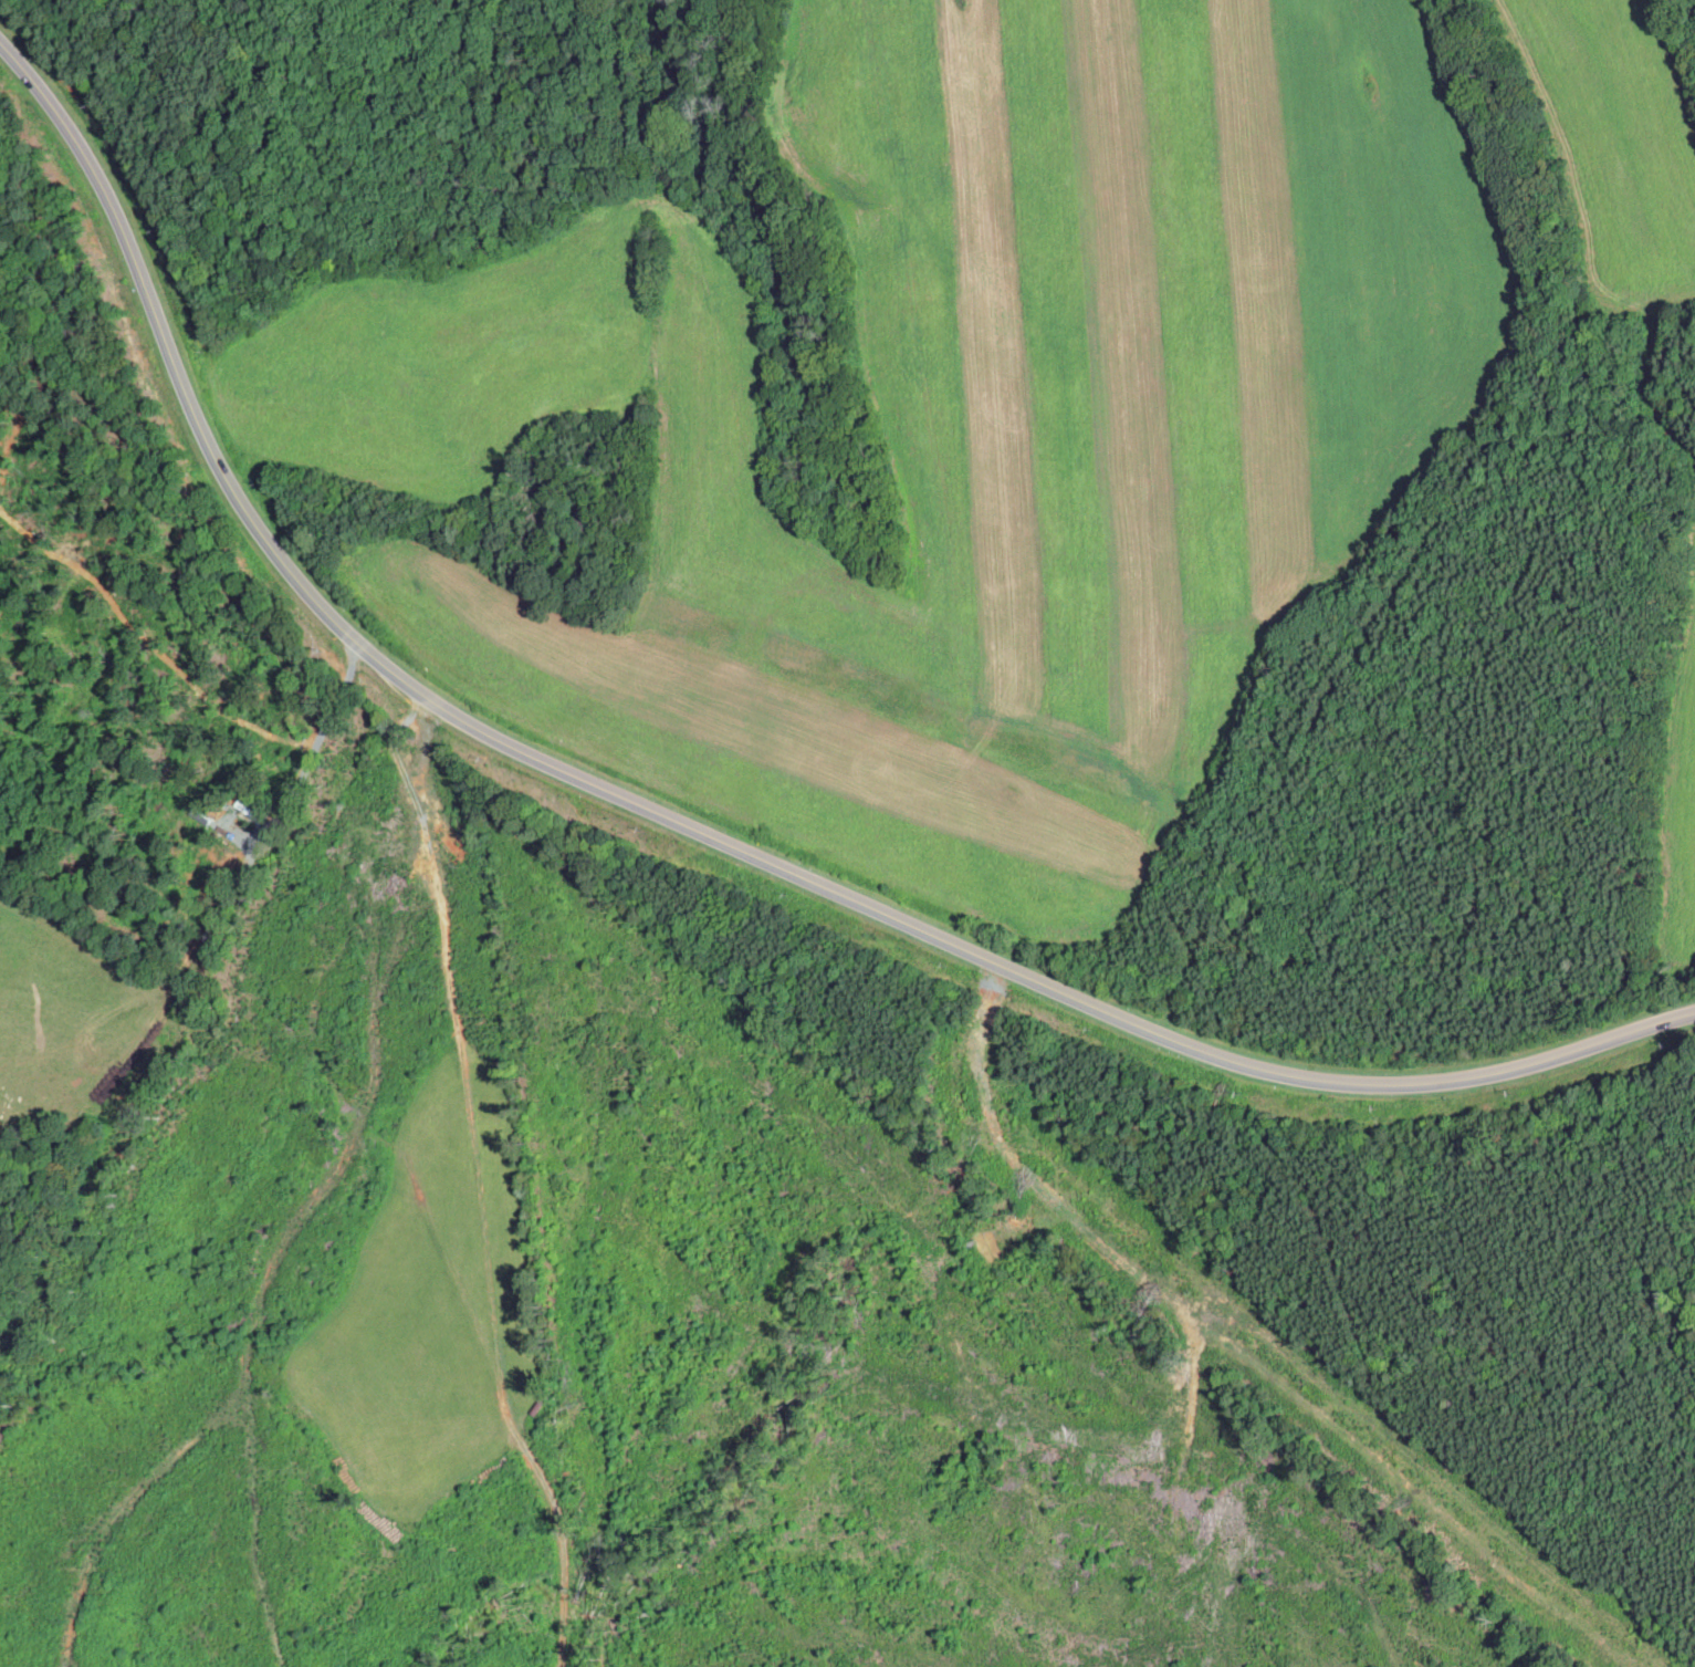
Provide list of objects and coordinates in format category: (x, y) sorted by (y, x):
road: (312, 743)
road: (679, 823)
crop: (77, 1060)
crop: (438, 1292)

